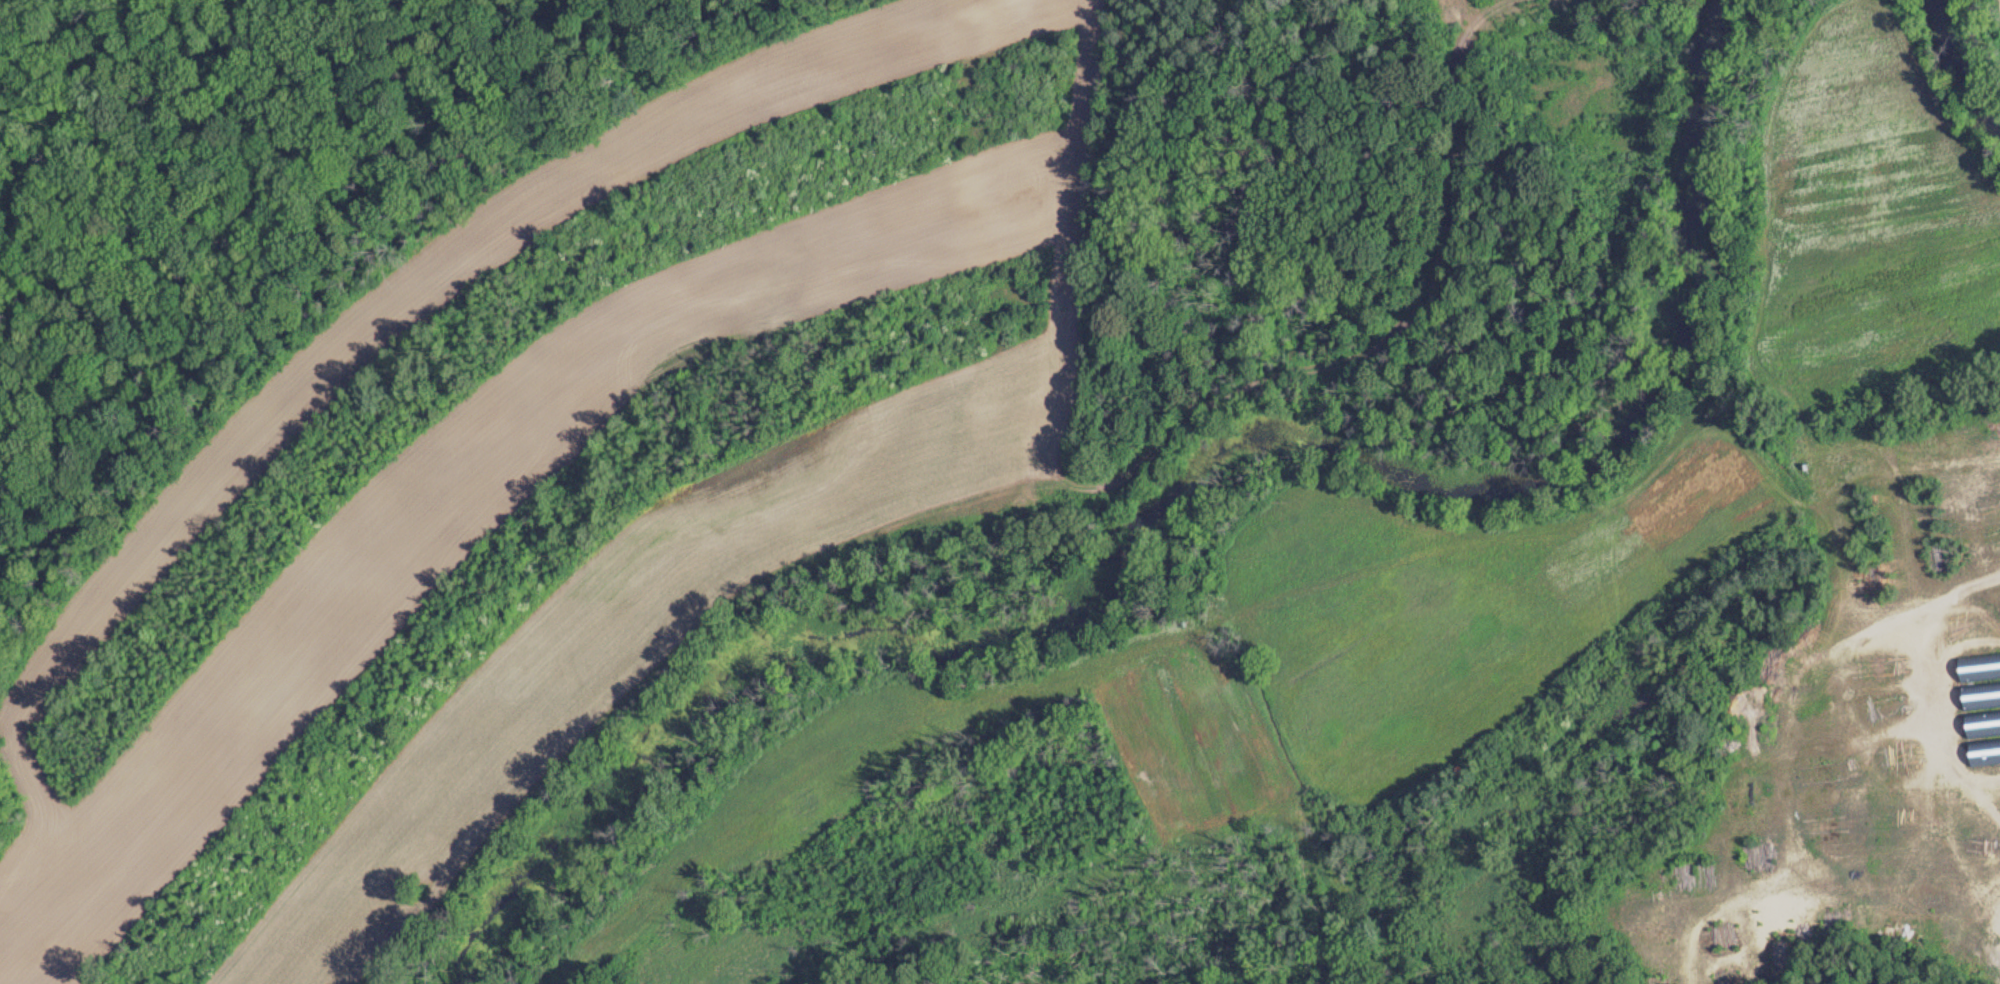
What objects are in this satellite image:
road: (1970, 582)
building: (1981, 668)
building: (1983, 696)
road: (636, 701)
building: (1986, 738)

